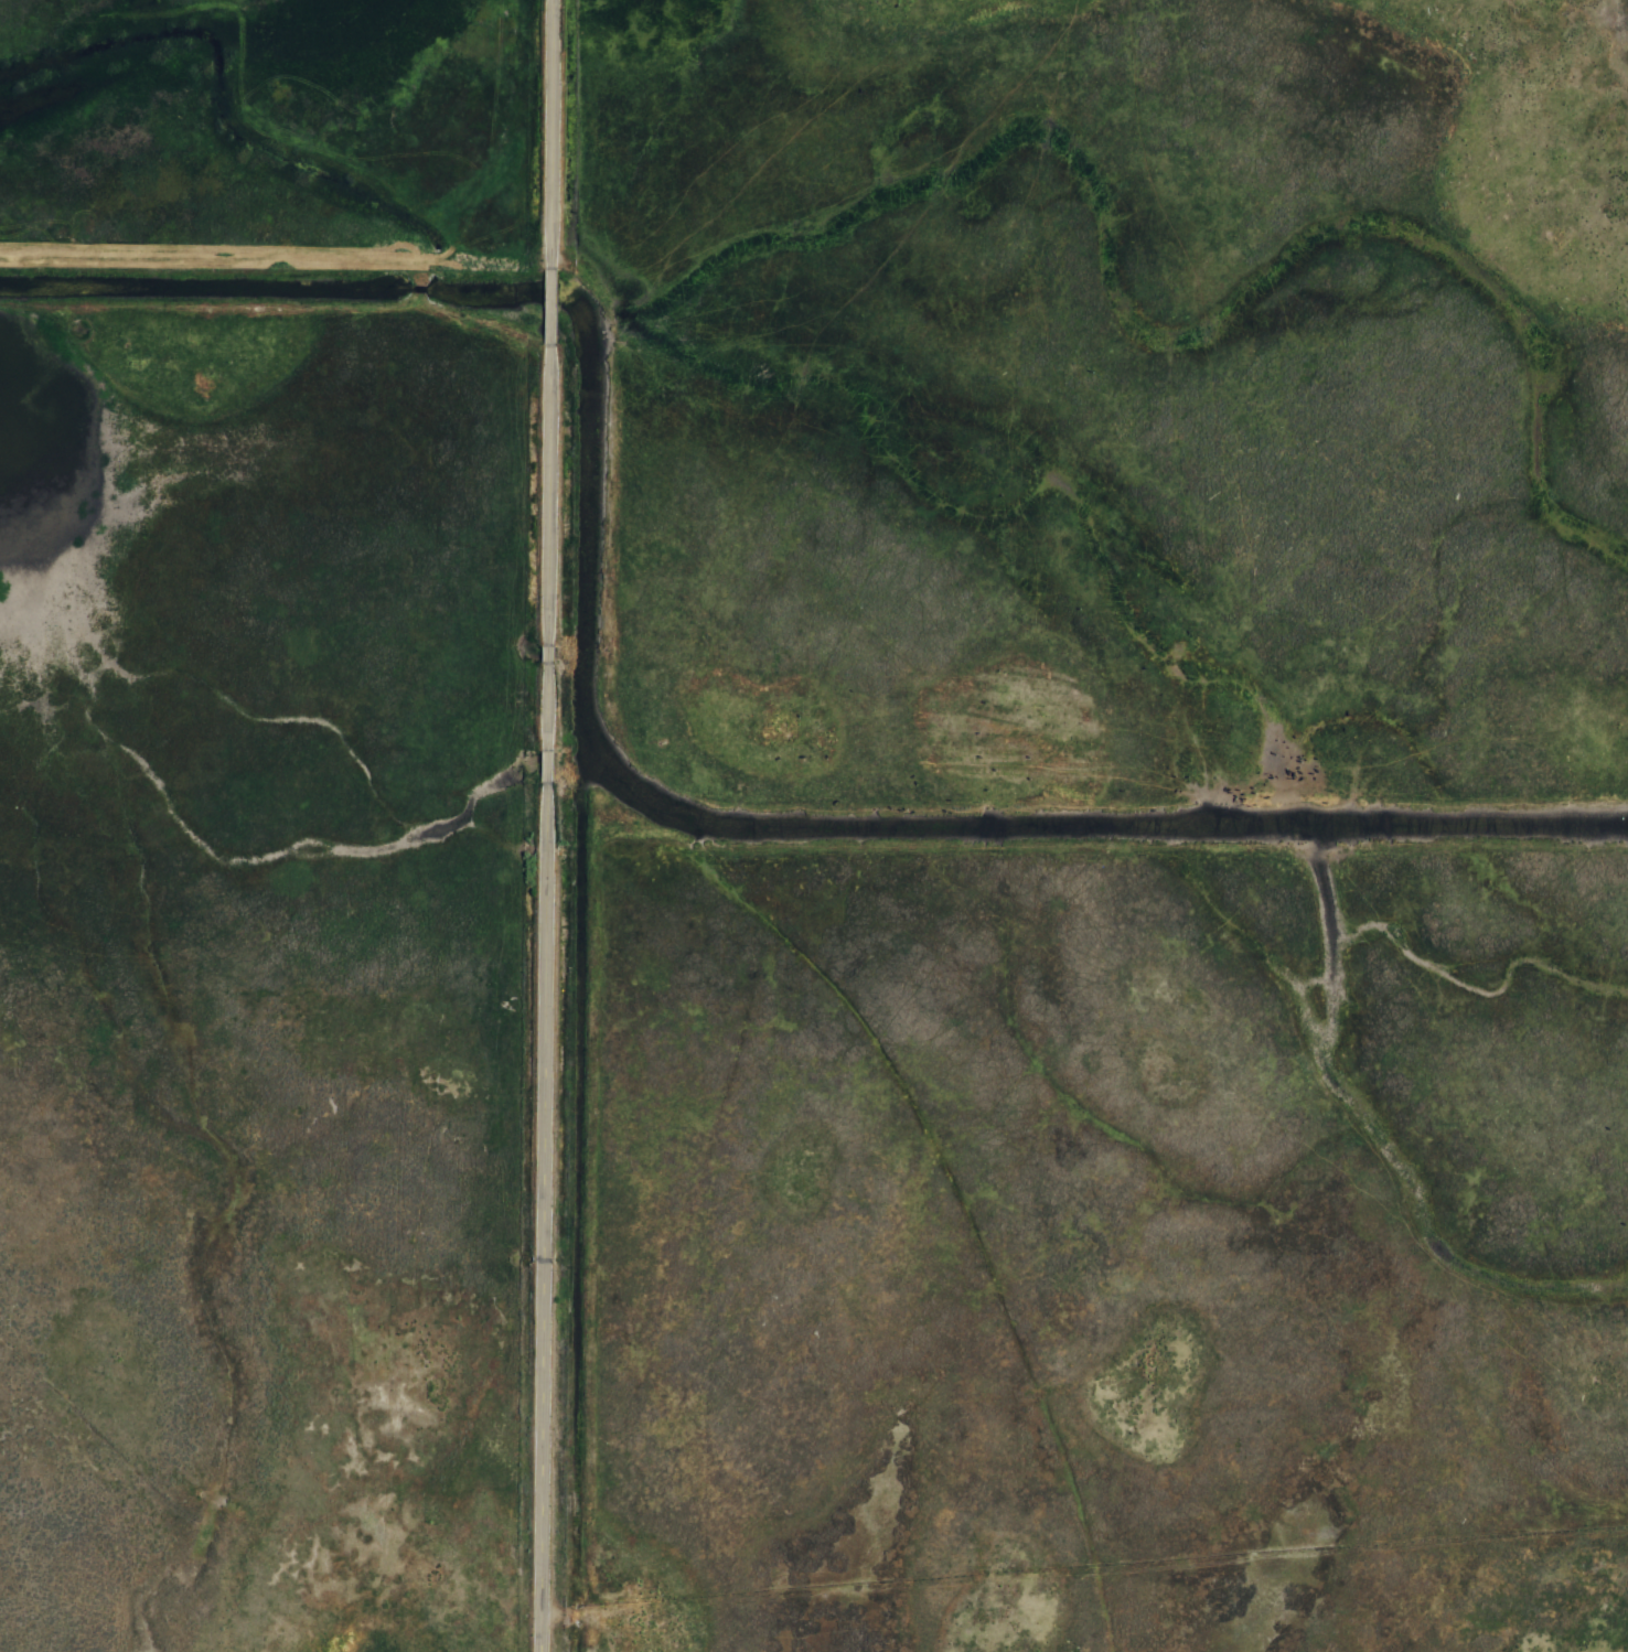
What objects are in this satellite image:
road: (543, 826)
crop: (817, 828)

